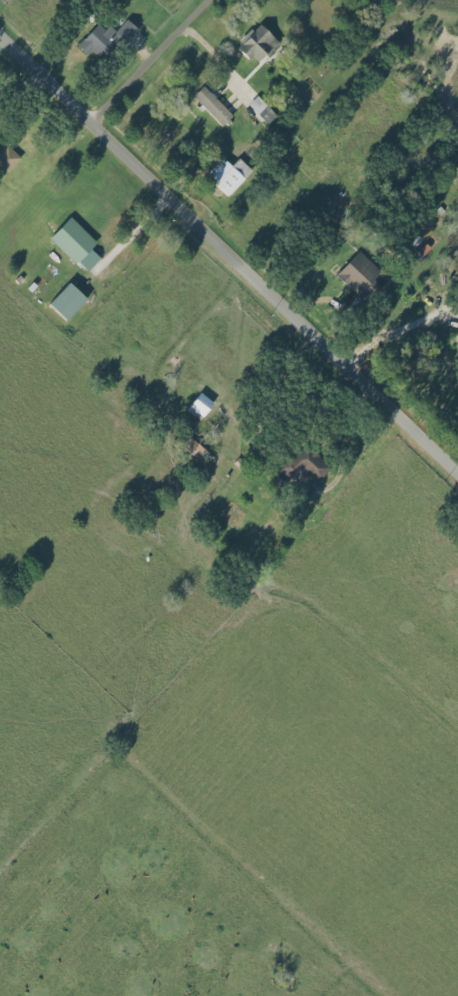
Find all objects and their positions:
building: (106, 38)
building: (259, 44)
road: (150, 60)
building: (213, 106)
building: (262, 110)
building: (7, 158)
building: (228, 175)
road: (138, 227)
building: (76, 244)
road: (229, 249)
building: (359, 274)
building: (67, 301)
road: (399, 331)
building: (200, 406)
building: (195, 449)
building: (306, 464)

